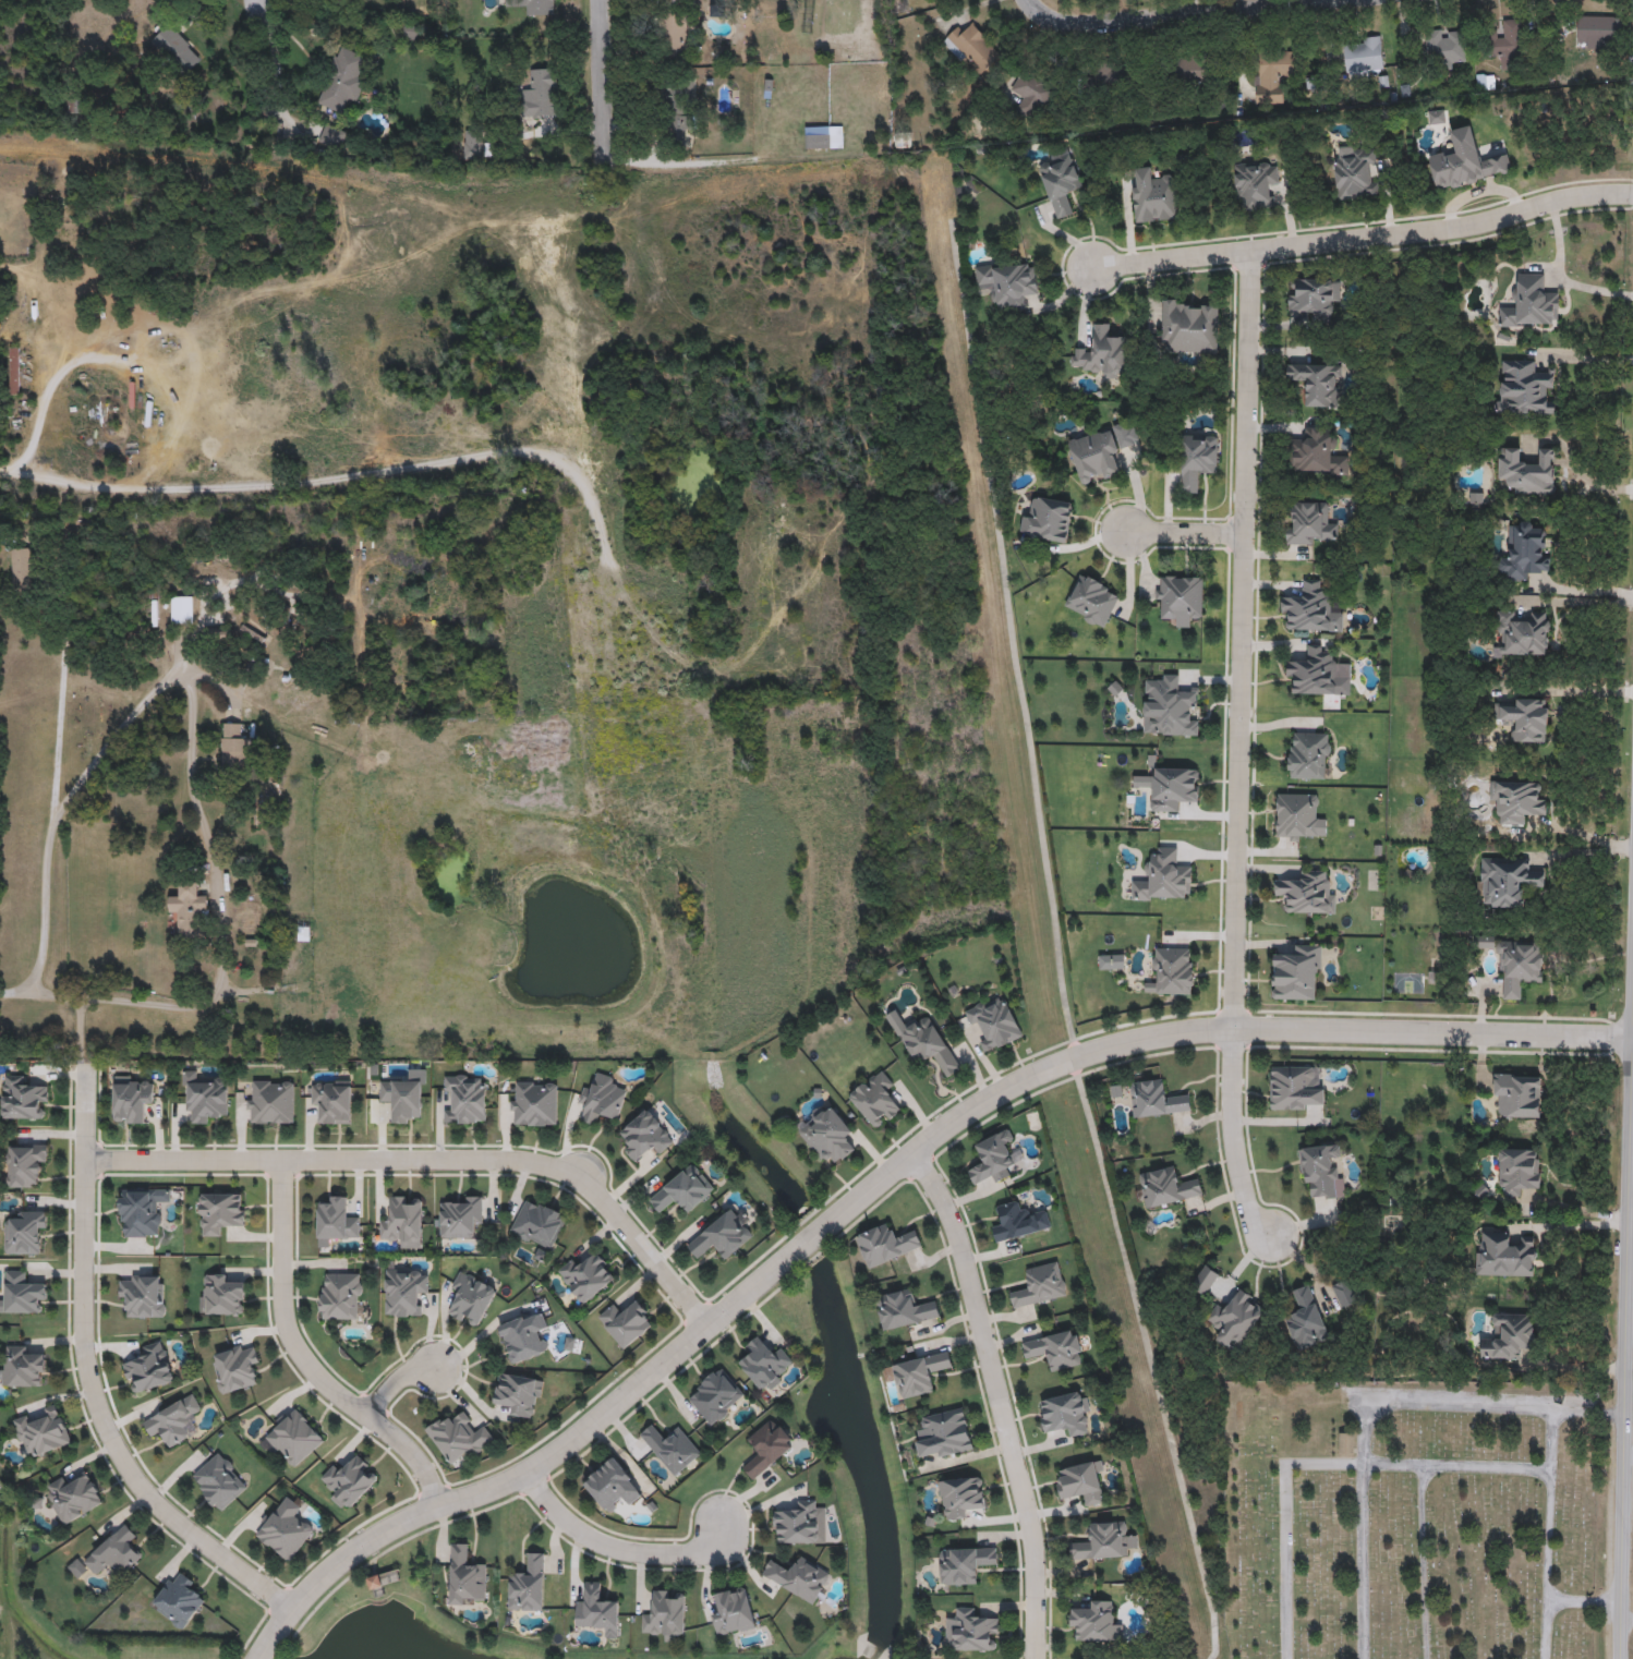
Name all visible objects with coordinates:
building: (539, 7)
road: (259, 14)
road: (1166, 14)
building: (1597, 29)
building: (674, 34)
building: (1505, 44)
building: (1443, 47)
building: (973, 48)
building: (176, 49)
building: (1363, 55)
building: (1192, 68)
building: (1272, 73)
building: (342, 78)
building: (1104, 80)
road: (603, 81)
building: (540, 93)
building: (1032, 94)
building: (673, 96)
building: (75, 105)
building: (678, 128)
building: (331, 135)
building: (816, 136)
building: (474, 144)
building: (1465, 162)
building: (1355, 171)
building: (1061, 182)
building: (1255, 184)
building: (1153, 197)
road: (1365, 237)
road: (1562, 277)
building: (1009, 283)
building: (1314, 296)
building: (1531, 303)
building: (1189, 327)
building: (1103, 353)
road: (1587, 359)
building: (14, 370)
building: (1317, 384)
building: (1525, 389)
road: (23, 421)
building: (1100, 453)
building: (1317, 453)
building: (1198, 460)
building: (1527, 472)
road: (299, 481)
building: (1048, 520)
building: (1309, 524)
road: (1182, 535)
building: (1524, 552)
building: (21, 567)
building: (1180, 597)
building: (1091, 601)
building: (181, 609)
building: (1310, 610)
building: (1523, 633)
road: (1239, 640)
building: (1314, 673)
building: (278, 691)
road: (1572, 692)
road: (68, 707)
building: (1170, 707)
building: (1524, 718)
building: (234, 746)
building: (1309, 756)
building: (1171, 788)
building: (1516, 800)
building: (1298, 818)
road: (217, 834)
building: (1163, 879)
building: (1505, 881)
building: (1308, 894)
building: (190, 910)
road: (51, 924)
road: (1056, 944)
building: (1519, 966)
building: (1173, 972)
building: (1297, 974)
building: (994, 1021)
building: (929, 1045)
building: (1295, 1089)
building: (1517, 1095)
building: (203, 1097)
building: (131, 1098)
building: (602, 1098)
building: (23, 1099)
building: (401, 1099)
building: (464, 1099)
building: (875, 1099)
building: (331, 1100)
building: (1157, 1100)
building: (269, 1101)
building: (533, 1102)
building: (826, 1134)
building: (645, 1135)
road: (1232, 1136)
building: (994, 1158)
road: (430, 1160)
building: (24, 1163)
building: (1516, 1171)
building: (1321, 1173)
road: (880, 1182)
building: (1166, 1187)
building: (682, 1190)
road: (1578, 1209)
building: (140, 1211)
building: (220, 1211)
building: (460, 1216)
building: (336, 1221)
building: (403, 1221)
building: (1018, 1221)
building: (537, 1223)
building: (25, 1232)
building: (723, 1235)
building: (885, 1244)
building: (1504, 1256)
building: (586, 1275)
building: (1205, 1282)
building: (1039, 1285)
building: (403, 1289)
building: (23, 1292)
building: (144, 1294)
building: (1344, 1294)
building: (222, 1295)
building: (340, 1295)
building: (471, 1298)
building: (904, 1309)
building: (1235, 1319)
building: (1306, 1320)
building: (626, 1321)
road: (1632, 1330)
building: (523, 1335)
building: (1509, 1337)
building: (1055, 1349)
road: (1630, 1351)
road: (301, 1360)
building: (765, 1364)
building: (21, 1367)
building: (234, 1367)
building: (148, 1368)
building: (920, 1372)
road: (89, 1382)
road: (395, 1383)
building: (519, 1393)
building: (715, 1395)
road: (1000, 1401)
building: (1064, 1413)
building: (174, 1420)
building: (41, 1432)
building: (944, 1433)
building: (294, 1437)
building: (459, 1437)
building: (1346, 1444)
building: (766, 1446)
building: (670, 1448)
road: (1630, 1455)
road: (1342, 1463)
road: (1454, 1465)
building: (219, 1480)
building: (349, 1480)
building: (1081, 1482)
building: (612, 1485)
building: (959, 1497)
building: (73, 1498)
road: (1544, 1502)
park: (1410, 1519)
building: (800, 1523)
building: (283, 1527)
building: (1103, 1541)
building: (113, 1551)
road: (620, 1551)
building: (964, 1563)
building: (465, 1576)
building: (798, 1576)
building: (528, 1584)
building: (178, 1600)
building: (597, 1611)
building: (733, 1612)
building: (665, 1614)
building: (1094, 1623)
road: (1544, 1630)
building: (970, 1631)

